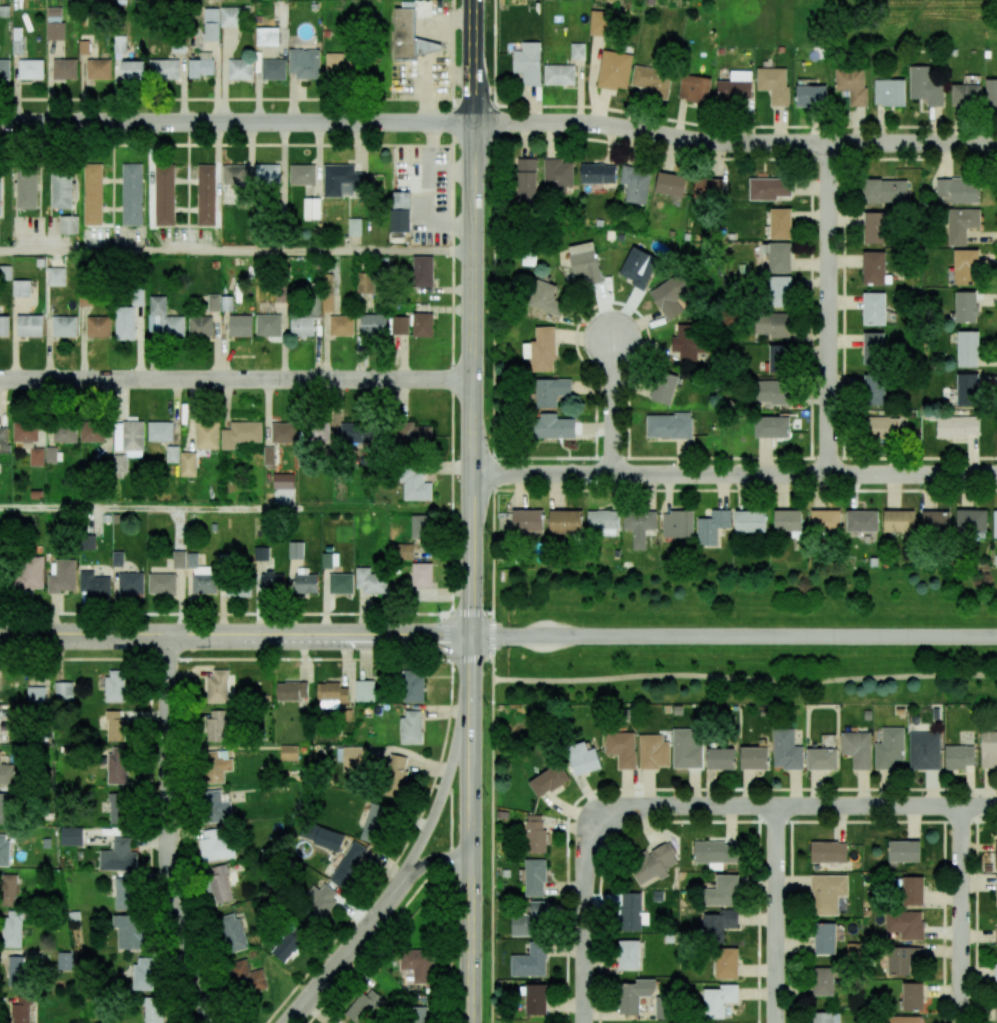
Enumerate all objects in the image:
building: (230, 16)
building: (598, 22)
building: (54, 23)
building: (212, 31)
building: (404, 33)
building: (17, 41)
building: (577, 50)
building: (304, 63)
building: (341, 63)
building: (528, 63)
building: (202, 65)
building: (4, 69)
building: (30, 69)
building: (64, 69)
building: (98, 69)
building: (163, 69)
building: (240, 69)
building: (273, 69)
building: (132, 70)
building: (614, 70)
building: (559, 74)
building: (652, 80)
building: (773, 84)
building: (852, 85)
building: (925, 86)
building: (735, 87)
building: (694, 89)
building: (889, 92)
building: (991, 92)
building: (966, 95)
building: (811, 96)
road: (235, 122)
road: (733, 142)
road: (449, 171)
building: (597, 173)
building: (302, 174)
building: (557, 174)
building: (234, 175)
building: (267, 175)
building: (526, 179)
building: (342, 181)
building: (634, 183)
building: (671, 184)
building: (708, 188)
building: (769, 188)
building: (27, 189)
building: (62, 189)
building: (959, 189)
building: (884, 191)
building: (93, 194)
building: (132, 194)
building: (164, 195)
building: (206, 195)
road: (428, 195)
building: (401, 199)
building: (312, 208)
building: (399, 220)
building: (780, 223)
building: (68, 224)
building: (961, 224)
building: (354, 227)
building: (874, 227)
road: (235, 252)
building: (779, 257)
building: (585, 261)
building: (639, 265)
building: (965, 267)
building: (873, 268)
building: (423, 271)
building: (56, 276)
building: (365, 282)
building: (21, 288)
building: (780, 291)
building: (328, 292)
building: (672, 297)
building: (545, 298)
building: (85, 299)
building: (213, 302)
road: (493, 306)
road: (452, 307)
building: (965, 307)
road: (827, 308)
building: (873, 309)
road: (471, 317)
building: (163, 318)
building: (125, 322)
building: (373, 324)
building: (421, 324)
building: (772, 324)
building: (4, 325)
building: (30, 325)
building: (240, 325)
building: (268, 325)
building: (341, 325)
building: (400, 325)
building: (64, 326)
building: (98, 326)
building: (200, 326)
building: (301, 326)
building: (687, 344)
building: (873, 348)
building: (967, 349)
building: (541, 350)
building: (778, 359)
road: (235, 379)
building: (664, 388)
building: (874, 389)
building: (967, 389)
building: (551, 391)
building: (771, 391)
road: (611, 405)
building: (668, 425)
building: (554, 426)
building: (772, 427)
building: (882, 427)
building: (958, 427)
building: (92, 431)
building: (160, 431)
building: (316, 431)
building: (25, 432)
building: (64, 433)
building: (283, 433)
building: (353, 433)
building: (3, 434)
building: (241, 434)
building: (415, 434)
building: (207, 435)
building: (129, 437)
building: (50, 454)
building: (172, 454)
building: (36, 456)
building: (268, 456)
building: (120, 463)
building: (188, 464)
road: (733, 474)
building: (283, 481)
building: (415, 485)
road: (235, 506)
building: (602, 519)
building: (527, 520)
building: (787, 520)
building: (825, 520)
building: (971, 520)
building: (750, 521)
building: (861, 521)
building: (899, 521)
building: (936, 521)
building: (565, 522)
building: (677, 524)
building: (995, 524)
building: (639, 526)
building: (420, 527)
building: (712, 527)
building: (88, 542)
building: (295, 550)
building: (405, 552)
building: (261, 553)
building: (117, 559)
building: (179, 559)
building: (330, 560)
building: (196, 564)
building: (29, 572)
building: (422, 574)
building: (63, 576)
building: (306, 581)
building: (370, 581)
building: (131, 582)
building: (272, 582)
building: (162, 583)
building: (204, 583)
building: (341, 583)
building: (93, 584)
building: (238, 587)
road: (268, 614)
road: (234, 635)
park: (744, 635)
traffic signals: (470, 636)
road: (733, 636)
road: (470, 652)
road: (456, 658)
road: (744, 677)
building: (115, 685)
building: (218, 686)
building: (413, 686)
building: (63, 690)
building: (292, 690)
building: (365, 690)
building: (36, 694)
building: (331, 695)
building: (115, 725)
building: (217, 726)
building: (411, 727)
building: (621, 748)
building: (686, 748)
building: (857, 748)
building: (890, 748)
building: (989, 749)
building: (786, 750)
building: (925, 750)
building: (289, 752)
building: (653, 752)
building: (959, 756)
building: (351, 758)
building: (583, 758)
building: (720, 758)
building: (754, 758)
building: (822, 759)
building: (215, 764)
building: (117, 765)
building: (6, 774)
building: (396, 775)
road: (446, 780)
building: (548, 780)
road: (887, 805)
building: (215, 806)
building: (2, 807)
building: (117, 808)
building: (374, 823)
road: (168, 831)
road: (593, 831)
building: (535, 834)
building: (71, 836)
building: (322, 836)
building: (215, 845)
road: (469, 845)
building: (4, 849)
road: (491, 850)
building: (904, 851)
building: (828, 852)
building: (713, 853)
building: (996, 855)
building: (118, 856)
road: (430, 862)
building: (653, 863)
building: (348, 864)
building: (534, 877)
building: (218, 883)
building: (8, 889)
building: (913, 890)
building: (122, 892)
building: (723, 892)
building: (996, 892)
building: (827, 893)
building: (318, 902)
building: (630, 911)
road: (776, 914)
road: (961, 914)
building: (530, 919)
building: (905, 924)
building: (719, 925)
building: (12, 928)
building: (127, 931)
building: (232, 932)
building: (996, 935)
building: (825, 938)
building: (286, 946)
road: (343, 954)
building: (628, 954)
building: (902, 959)
building: (65, 961)
building: (530, 961)
building: (727, 963)
building: (417, 964)
building: (16, 971)
building: (143, 973)
building: (995, 973)
building: (246, 978)
building: (823, 981)
building: (634, 995)
building: (912, 996)
building: (535, 998)
building: (719, 1000)
building: (364, 1006)
building: (21, 1010)
building: (153, 1010)
building: (996, 1013)
building: (416, 1014)
building: (826, 1017)
building: (904, 1019)

